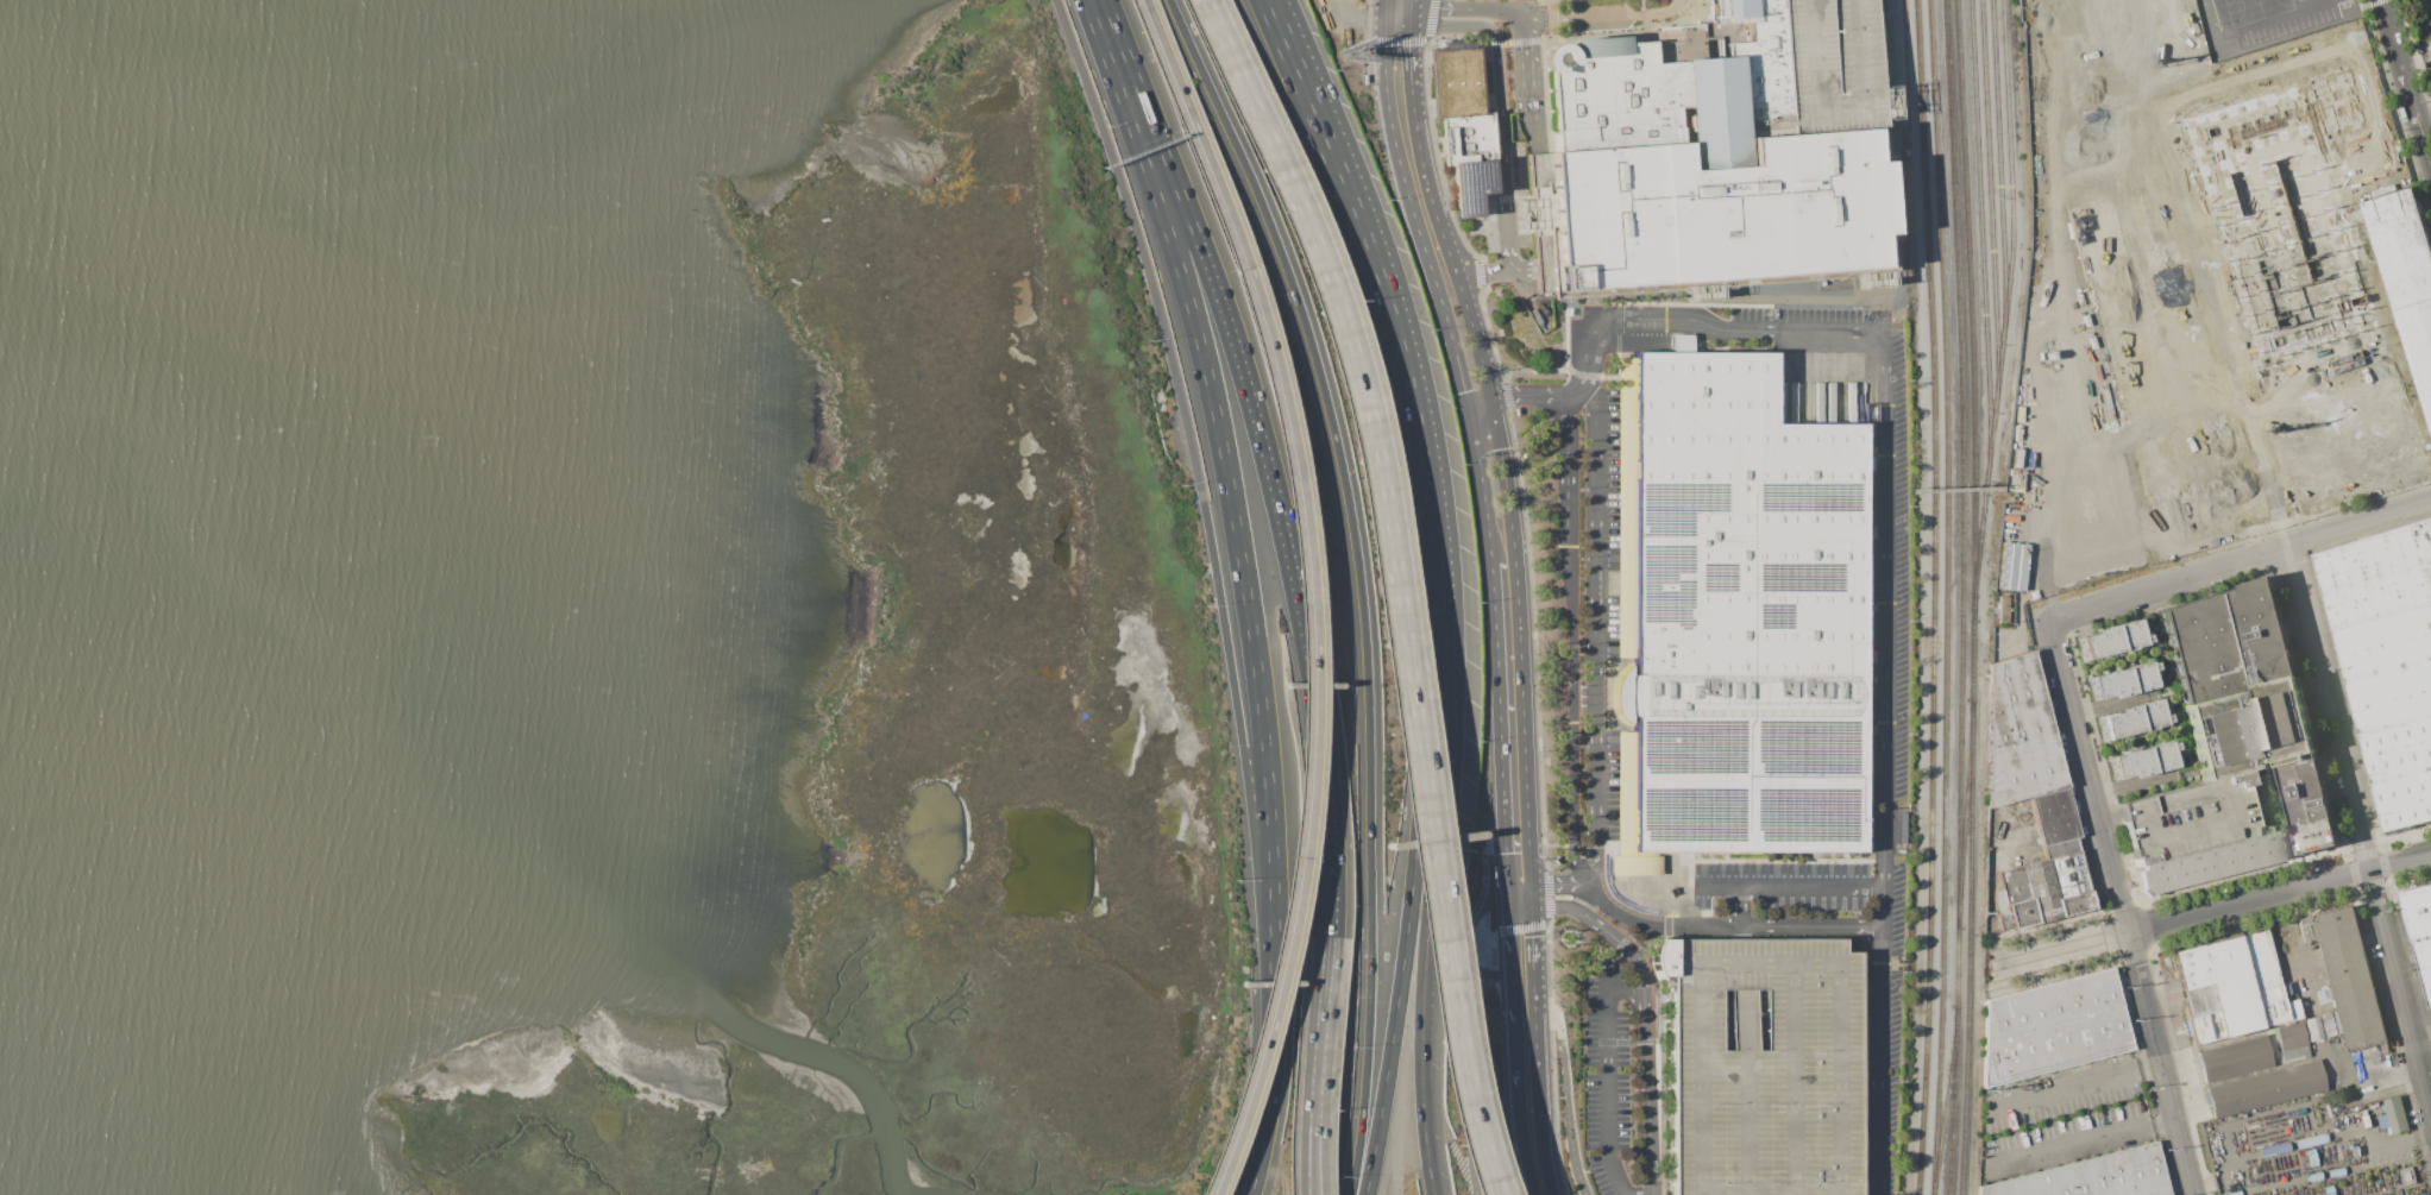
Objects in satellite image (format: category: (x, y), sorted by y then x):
building: (2062, 1)
road: (1396, 7)
road: (1461, 7)
road: (2429, 11)
road: (1604, 13)
road: (1359, 15)
traffic signals: (1396, 15)
parking lot: (2420, 15)
road: (1430, 20)
road: (1397, 42)
building: (2132, 43)
road: (1408, 46)
road: (1497, 51)
building: (1828, 64)
parking lot: (1828, 64)
road: (2406, 77)
road: (1531, 86)
building: (1463, 122)
road: (1436, 153)
building: (1697, 168)
railway: (2012, 172)
road: (1521, 196)
road: (1505, 197)
railway: (1992, 205)
road: (1411, 209)
building: (2285, 215)
road: (1483, 219)
road: (1506, 231)
railway: (1984, 239)
road: (1443, 241)
building: (2401, 244)
building: (2123, 266)
road: (1481, 269)
road: (1478, 273)
railway: (2004, 312)
building: (1681, 342)
building: (2419, 342)
road: (1395, 350)
railway: (1973, 350)
road: (1521, 396)
traffic signals: (1489, 398)
road: (1477, 401)
traffic signals: (1466, 403)
building: (2347, 444)
road: (1264, 455)
railway: (1964, 463)
road: (1195, 474)
road: (1566, 476)
road: (1480, 477)
road: (2240, 561)
road: (1531, 578)
road: (1358, 580)
road: (1884, 580)
road: (1392, 585)
road: (1244, 589)
road: (1309, 591)
railway: (1935, 597)
railway: (1948, 597)
building: (2004, 609)
building: (1735, 616)
road: (1594, 635)
road: (1519, 640)
building: (2109, 640)
building: (2388, 662)
building: (2122, 681)
building: (2248, 699)
road: (1499, 718)
building: (2129, 719)
road: (1572, 723)
building: (2019, 732)
building: (2141, 761)
parking lot: (1887, 786)
road: (2110, 813)
railway: (1967, 815)
railway: (1973, 816)
building: (2055, 816)
building: (2187, 817)
road: (2362, 822)
building: (2012, 837)
building: (2211, 862)
road: (1552, 883)
road: (1518, 885)
traffic signals: (1529, 885)
traffic signals: (1507, 886)
road: (1789, 888)
building: (2044, 889)
road: (1529, 895)
road: (1507, 897)
road: (1547, 897)
road: (1480, 898)
road: (1581, 901)
road: (1519, 907)
traffic signals: (1529, 907)
road: (2125, 907)
traffic signals: (1508, 908)
road: (2211, 912)
road: (1745, 913)
road: (1480, 914)
road: (1654, 925)
road: (1813, 926)
road: (1521, 927)
building: (2419, 931)
road: (1488, 932)
road: (1481, 933)
road: (2295, 945)
road: (1402, 957)
road: (1421, 957)
road: (1531, 961)
road: (1510, 967)
road: (2155, 973)
building: (2349, 975)
building: (2231, 986)
road: (1501, 992)
road: (1632, 999)
road: (1642, 1014)
road: (2421, 1020)
building: (2331, 1024)
building: (2054, 1026)
building: (2313, 1029)
road: (1319, 1030)
road: (1534, 1040)
building: (2291, 1040)
building: (2234, 1058)
road: (1552, 1059)
railway: (1956, 1061)
railway: (1967, 1062)
building: (1764, 1065)
parking lot: (1764, 1065)
parking lot: (1613, 1076)
road: (2381, 1076)
road: (1468, 1078)
road: (1608, 1082)
road: (2075, 1083)
building: (2266, 1088)
road: (1566, 1095)
railway: (1948, 1100)
road: (1518, 1108)
building: (2394, 1115)
road: (1538, 1126)
road: (1390, 1134)
road: (2081, 1134)
building: (2310, 1140)
road: (2389, 1141)
building: (2274, 1150)
road: (1307, 1159)
road: (1312, 1161)
road: (1275, 1169)
building: (2093, 1176)
building: (2407, 1176)
road: (1539, 1190)
road: (1621, 1191)
road: (1638, 1193)
building: (2234, 1193)

